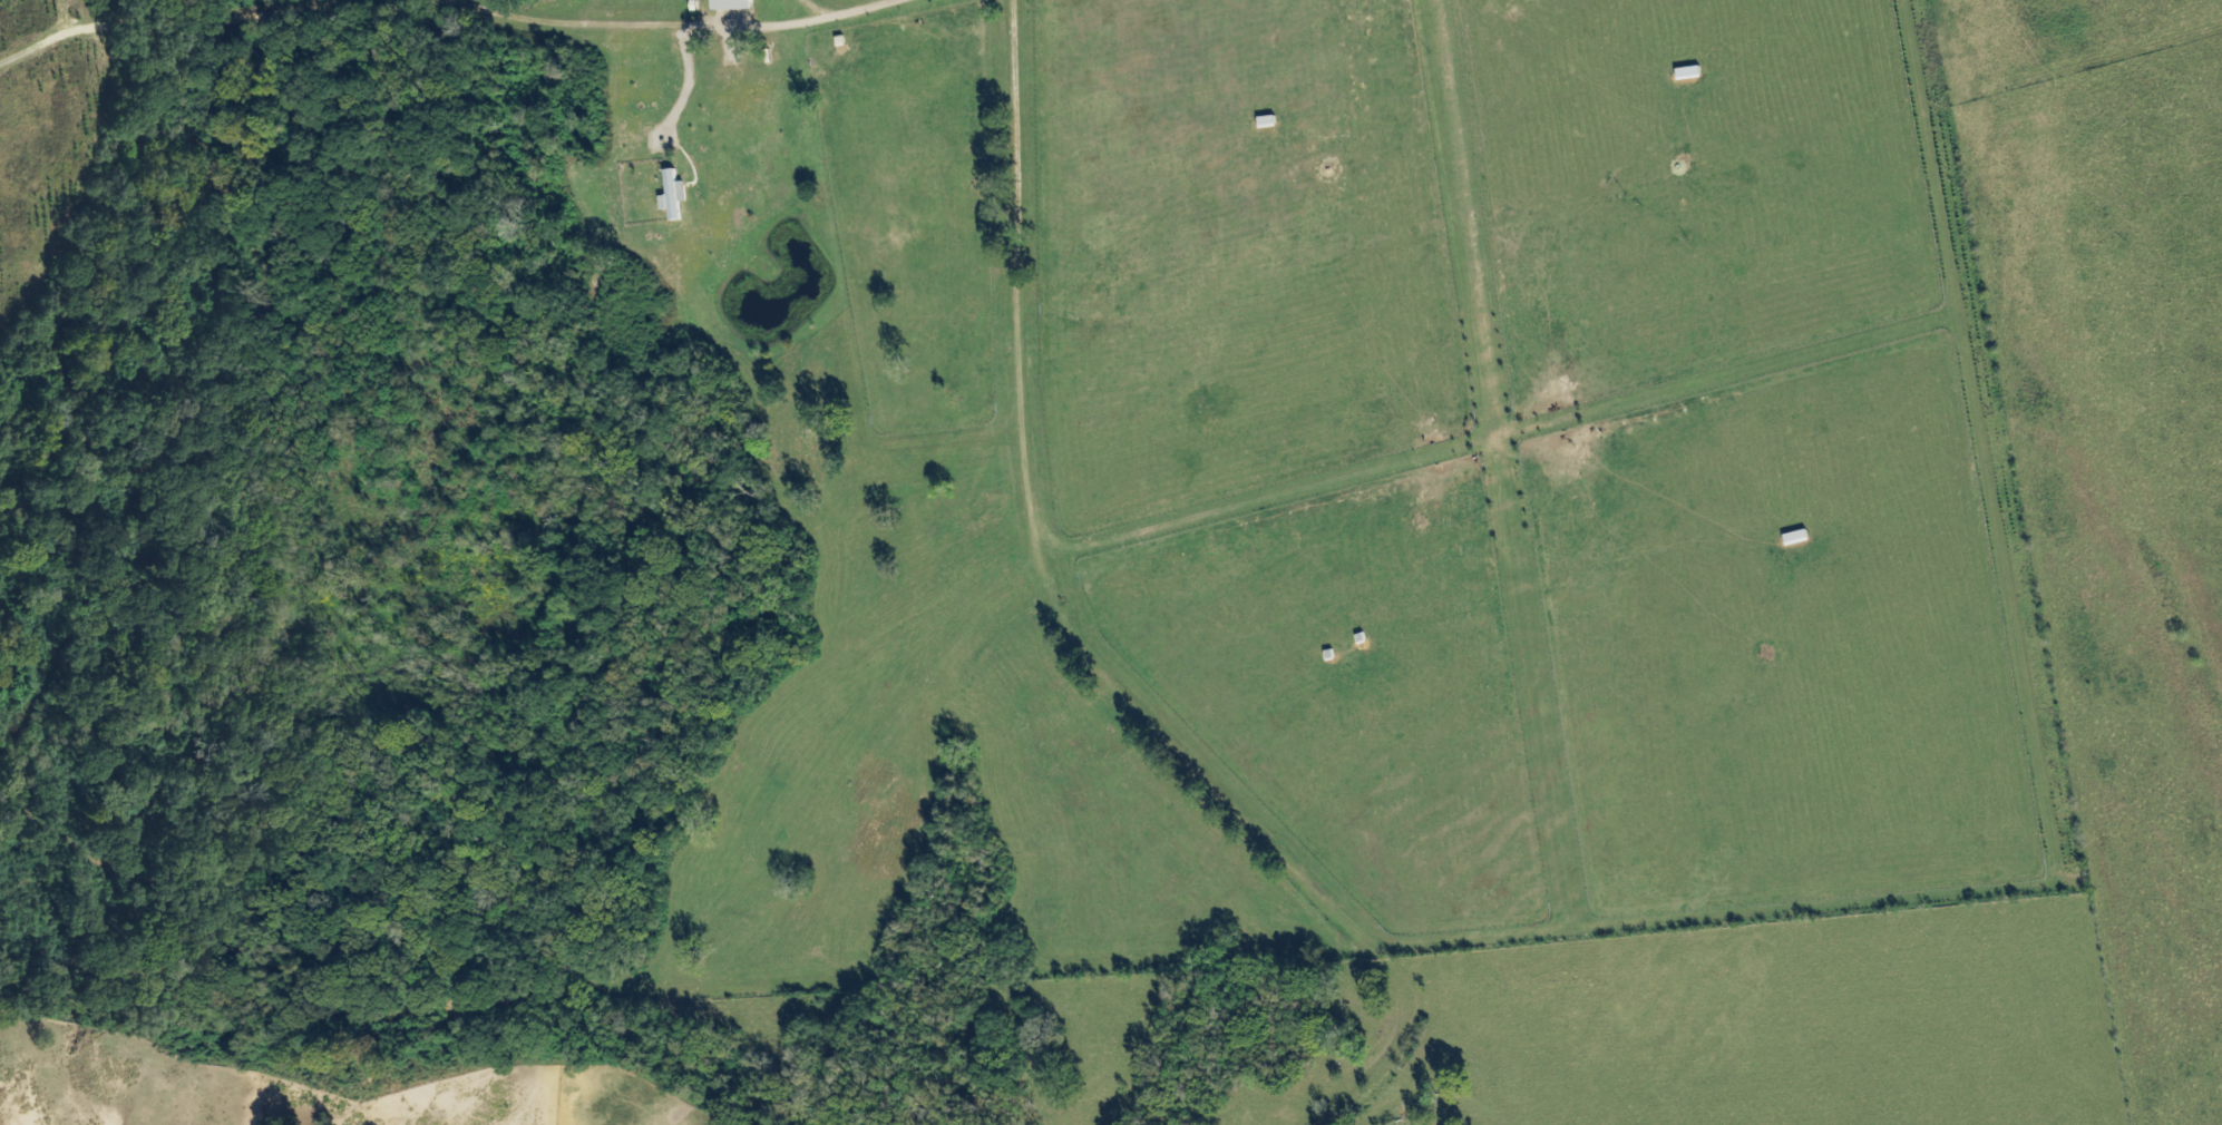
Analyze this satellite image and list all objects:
building: (735, 4)
road: (734, 26)
building: (675, 195)

